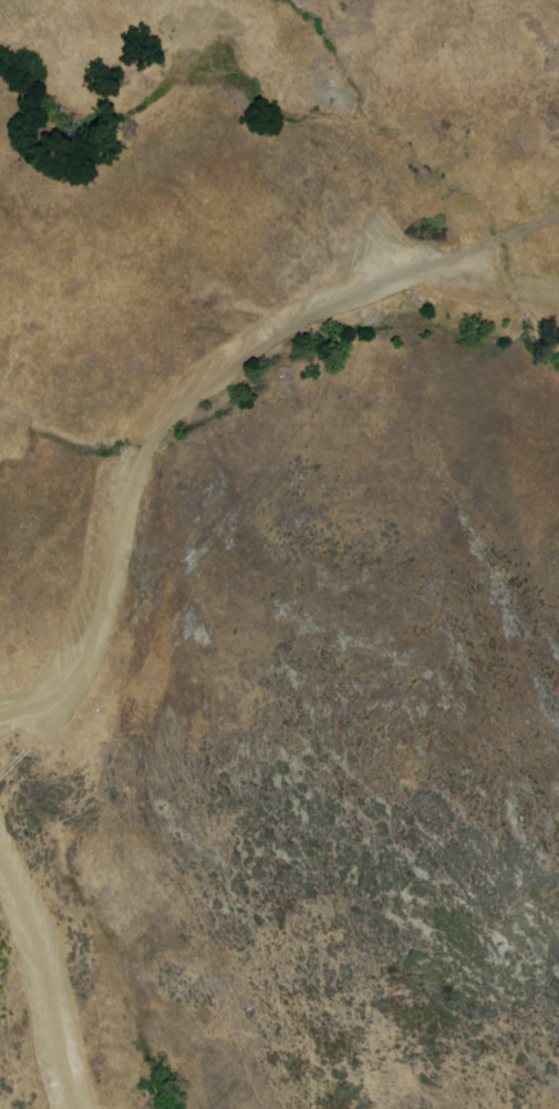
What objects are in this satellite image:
road: (147, 452)
road: (46, 985)

